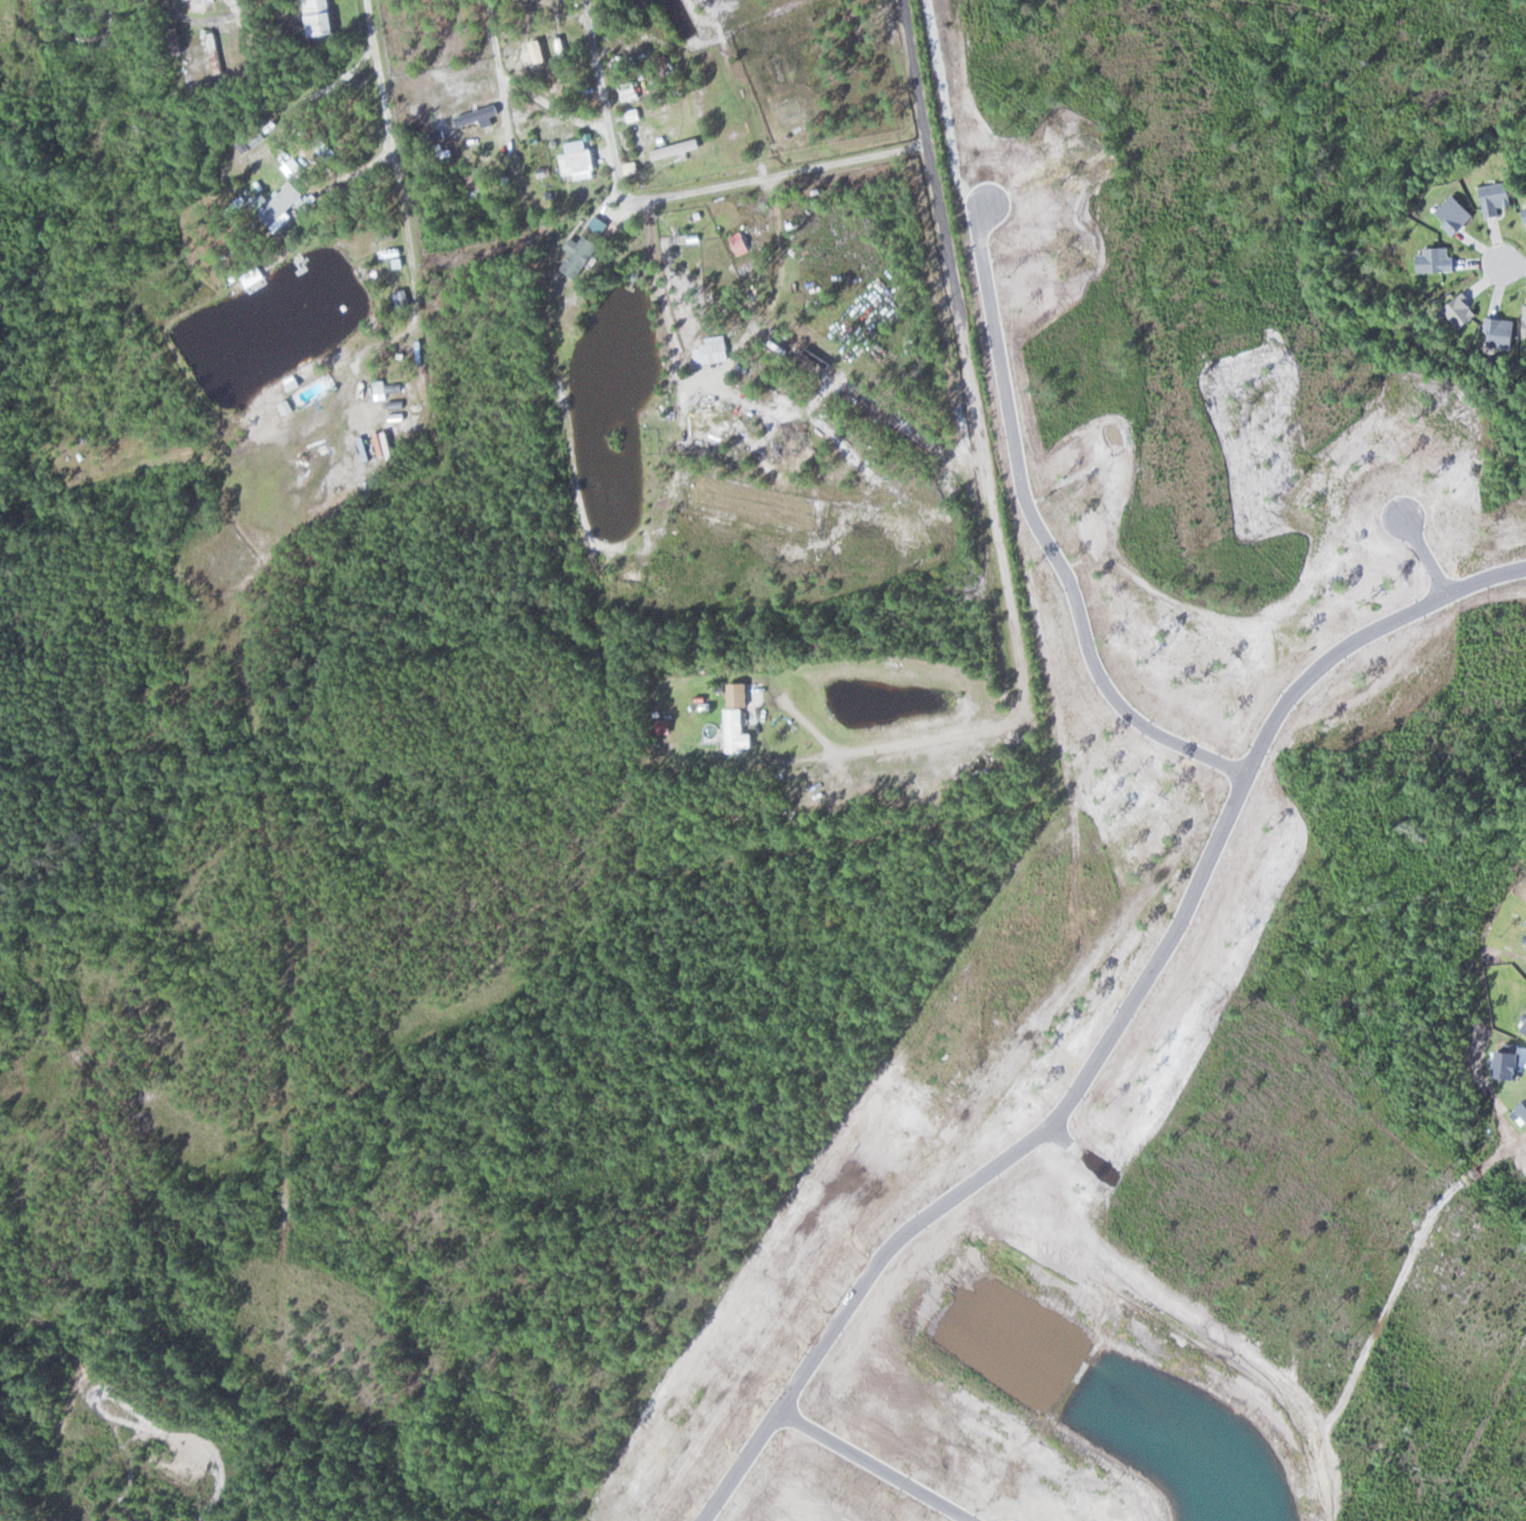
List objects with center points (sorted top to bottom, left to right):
building: (322, 17)
road: (192, 19)
building: (180, 41)
building: (543, 48)
building: (217, 53)
building: (632, 91)
building: (480, 116)
building: (679, 148)
building: (580, 159)
building: (285, 203)
building: (583, 257)
road: (1515, 264)
building: (404, 299)
building: (398, 410)
building: (740, 719)

